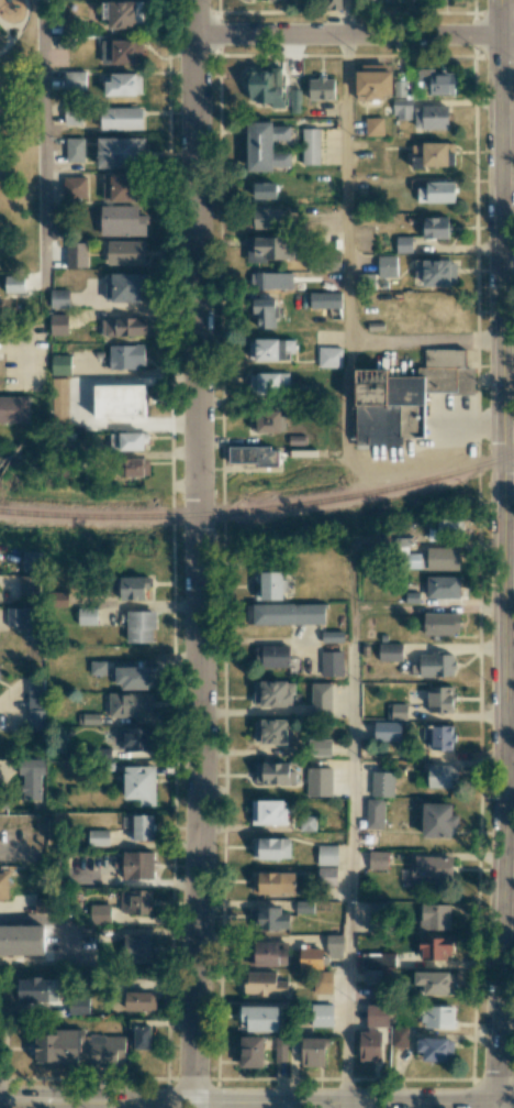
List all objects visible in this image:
building: (120, 13)
road: (345, 17)
road: (23, 19)
road: (3, 22)
road: (8, 34)
road: (353, 34)
road: (12, 39)
building: (133, 53)
building: (436, 80)
building: (372, 81)
building: (130, 84)
building: (265, 86)
building: (321, 88)
building: (294, 102)
building: (401, 109)
building: (72, 114)
building: (431, 117)
building: (121, 118)
building: (373, 125)
park: (20, 136)
building: (266, 145)
building: (310, 145)
building: (74, 150)
road: (40, 152)
building: (119, 152)
building: (433, 154)
building: (120, 186)
building: (75, 188)
road: (346, 188)
building: (265, 189)
building: (436, 191)
building: (267, 218)
building: (122, 220)
building: (435, 227)
building: (403, 243)
building: (268, 249)
building: (124, 252)
building: (387, 265)
building: (437, 272)
building: (270, 279)
building: (14, 283)
building: (124, 286)
building: (58, 298)
building: (326, 303)
building: (265, 311)
building: (59, 323)
building: (123, 327)
road: (425, 342)
road: (23, 348)
building: (270, 349)
building: (126, 355)
building: (329, 356)
building: (60, 364)
building: (268, 382)
building: (405, 396)
building: (59, 398)
building: (119, 401)
road: (82, 403)
road: (348, 404)
building: (13, 408)
building: (265, 420)
building: (132, 440)
building: (253, 456)
building: (135, 467)
railway: (260, 511)
building: (444, 528)
road: (504, 551)
road: (198, 553)
building: (443, 558)
building: (32, 560)
building: (269, 584)
building: (29, 585)
building: (442, 586)
building: (132, 588)
road: (428, 608)
building: (286, 614)
building: (87, 615)
building: (20, 616)
building: (440, 623)
building: (141, 626)
building: (332, 636)
building: (390, 651)
building: (272, 656)
building: (332, 662)
building: (436, 663)
building: (98, 667)
building: (133, 677)
building: (35, 693)
building: (271, 693)
building: (321, 696)
building: (439, 699)
building: (130, 704)
building: (396, 711)
building: (35, 720)
building: (387, 731)
building: (271, 732)
building: (438, 737)
building: (137, 738)
building: (319, 747)
building: (273, 772)
building: (442, 776)
building: (31, 777)
building: (319, 781)
building: (139, 783)
building: (382, 783)
building: (268, 812)
building: (373, 813)
building: (437, 820)
building: (143, 827)
road: (351, 835)
building: (98, 837)
building: (270, 847)
building: (327, 854)
road: (22, 856)
building: (378, 859)
building: (137, 865)
building: (432, 871)
building: (326, 876)
building: (272, 882)
building: (4, 885)
building: (136, 901)
building: (99, 912)
road: (54, 917)
building: (378, 917)
building: (435, 917)
building: (271, 919)
building: (22, 940)
building: (334, 945)
building: (136, 947)
building: (435, 947)
building: (266, 954)
building: (311, 958)
building: (378, 959)
building: (371, 976)
building: (322, 981)
building: (434, 981)
building: (264, 984)
building: (34, 989)
building: (139, 1000)
building: (78, 1005)
building: (320, 1014)
building: (377, 1014)
building: (436, 1017)
building: (259, 1018)
building: (142, 1036)
building: (399, 1036)
building: (369, 1044)
building: (56, 1046)
road: (5, 1047)
building: (101, 1049)
building: (280, 1049)
building: (435, 1049)
building: (250, 1051)
building: (313, 1051)
road: (2, 1075)
road: (5, 1088)
road: (247, 1101)
road: (505, 1102)
road: (344, 1105)
road: (496, 1105)

